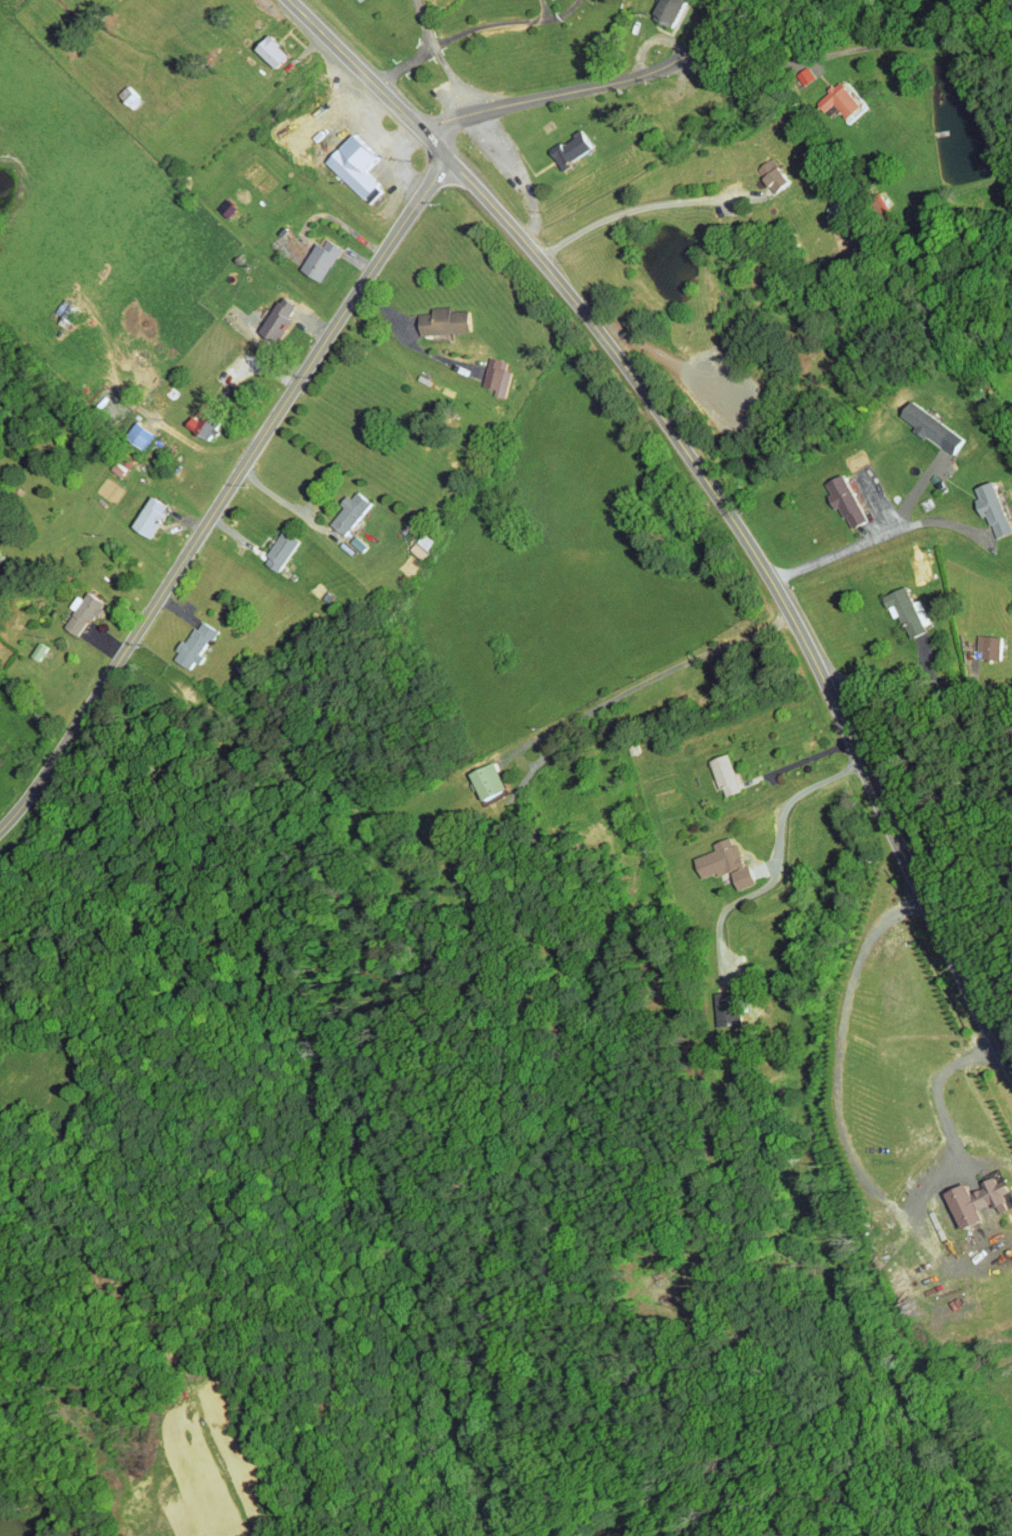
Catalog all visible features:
road: (841, 54)
road: (591, 88)
road: (636, 207)
road: (129, 419)
road: (715, 492)
road: (225, 495)
road: (880, 537)
road: (917, 680)
road: (647, 682)
road: (777, 857)
road: (161, 1333)

